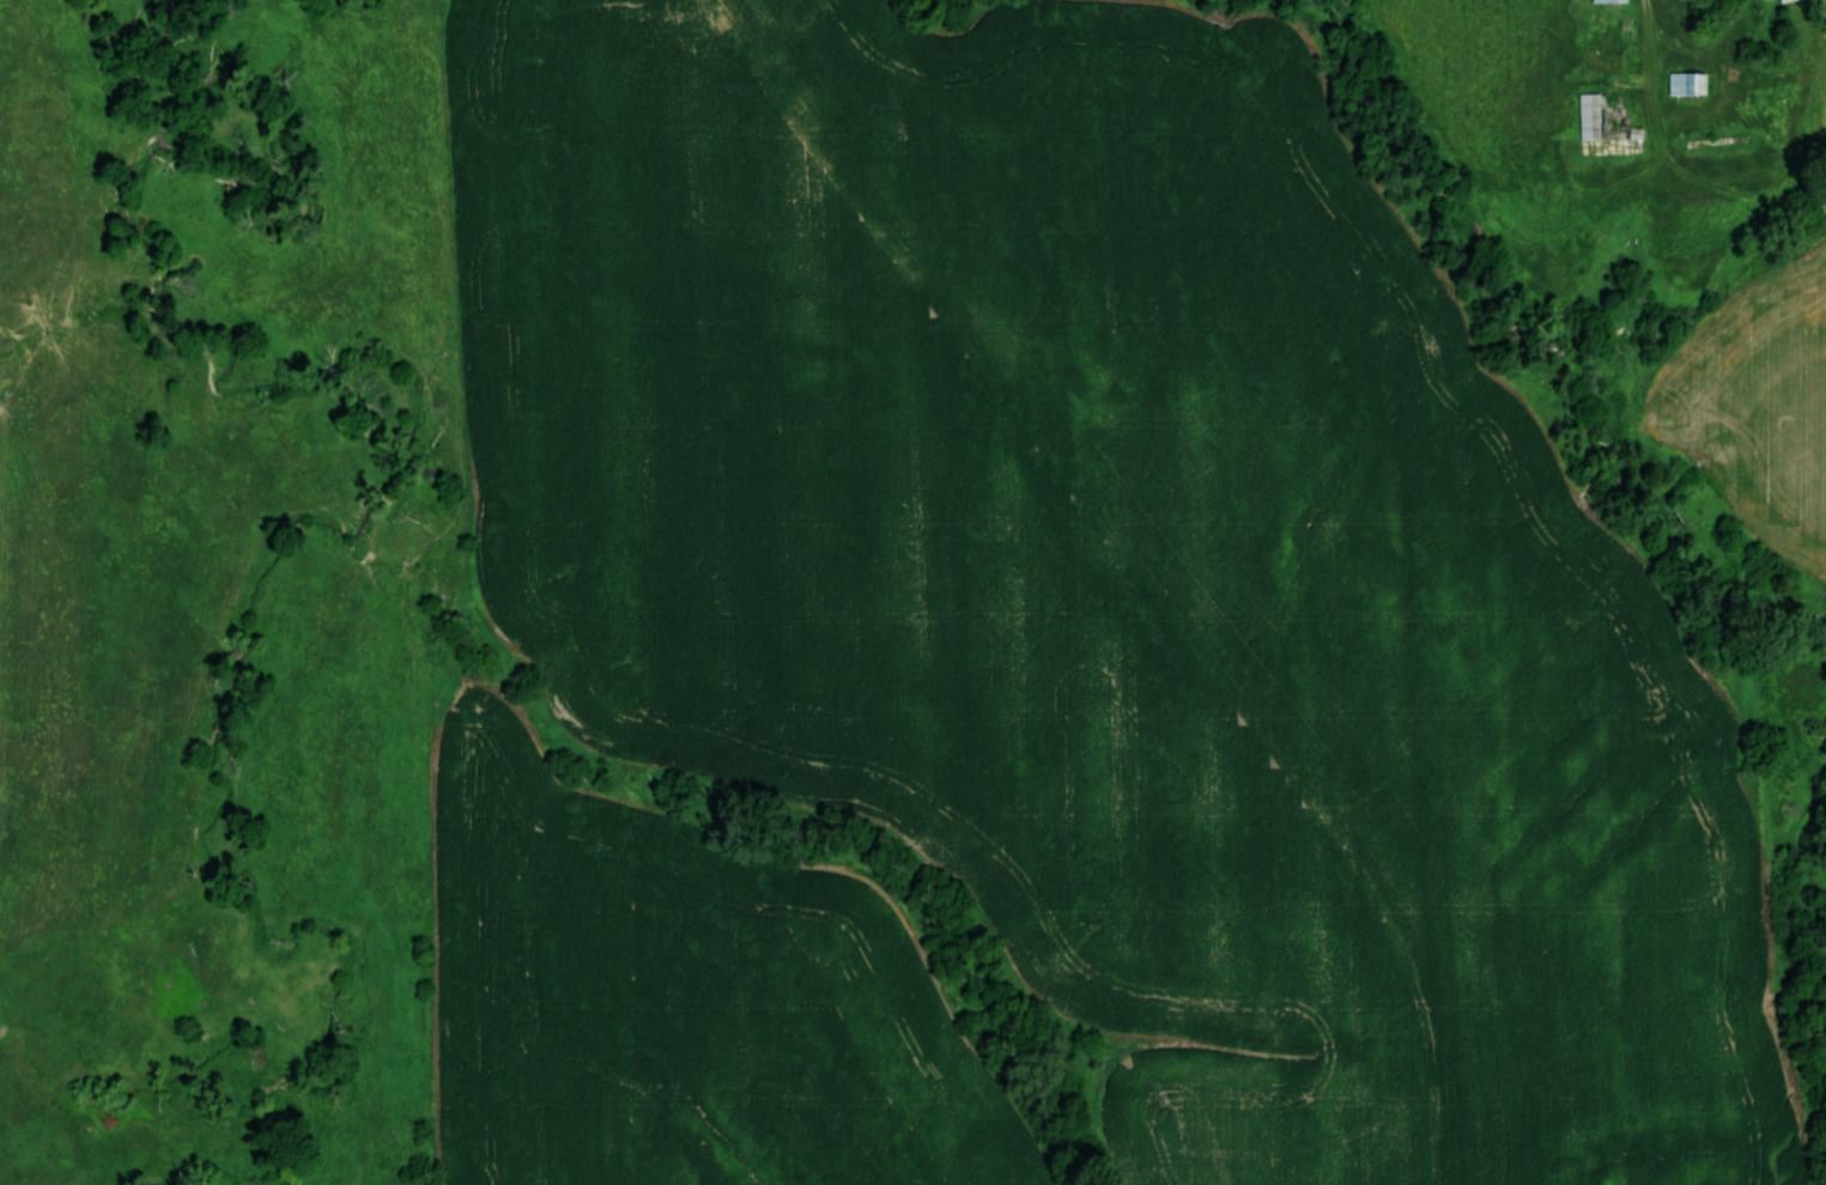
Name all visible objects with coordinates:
building: (1789, 0)
building: (1606, 1)
building: (1686, 84)
building: (1588, 116)

